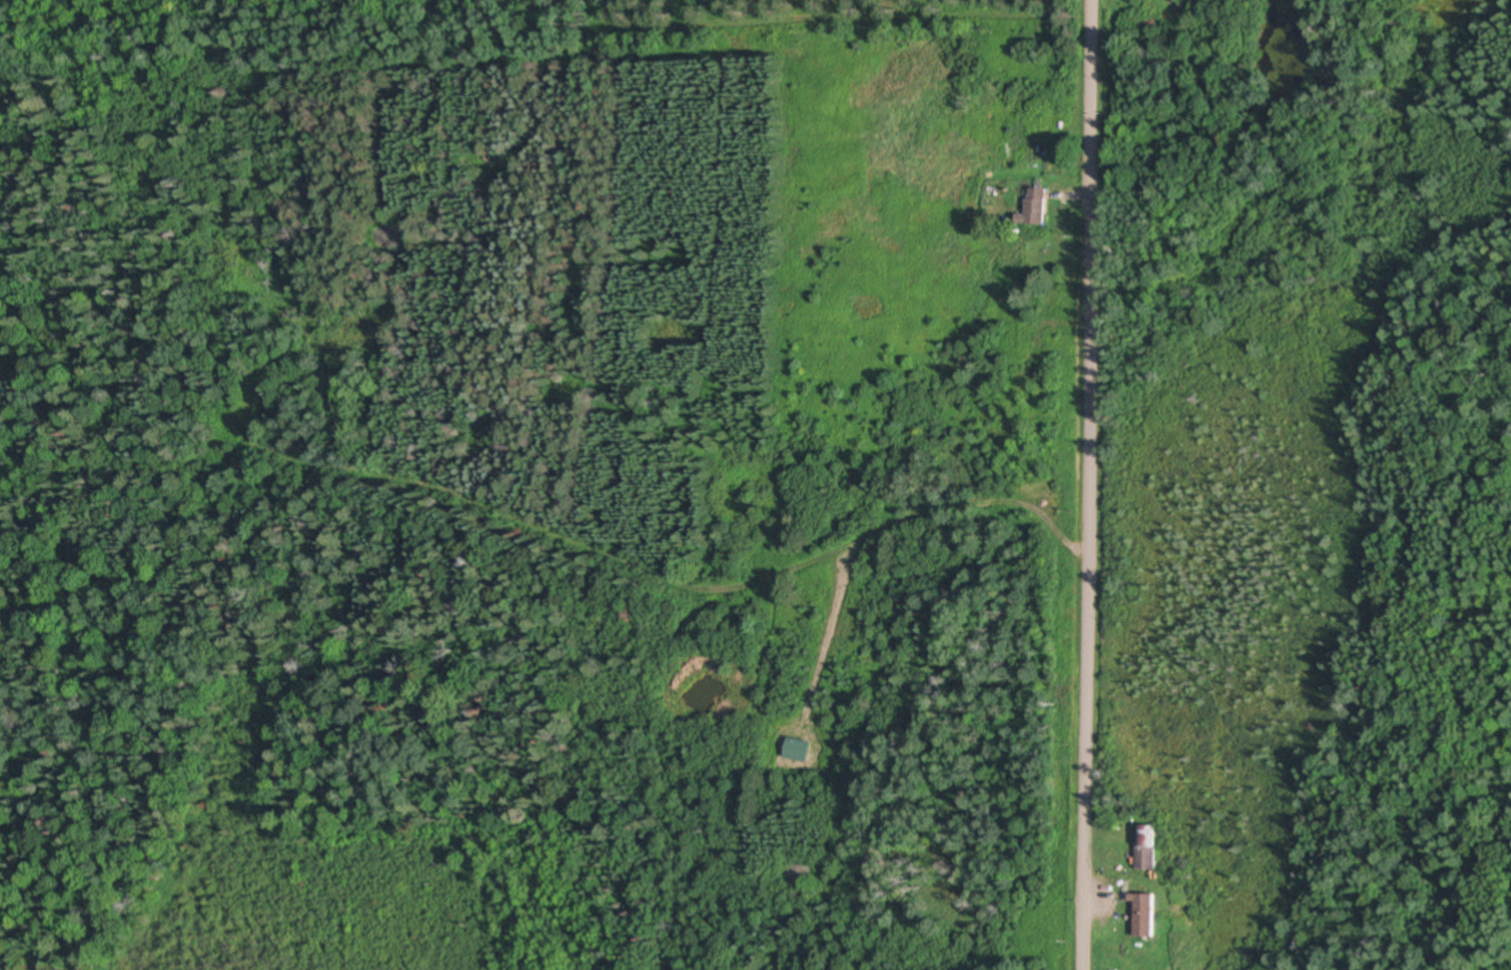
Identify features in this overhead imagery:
building: (1037, 209)
building: (1027, 391)
road: (1079, 485)
building: (1148, 847)
building: (1147, 917)

